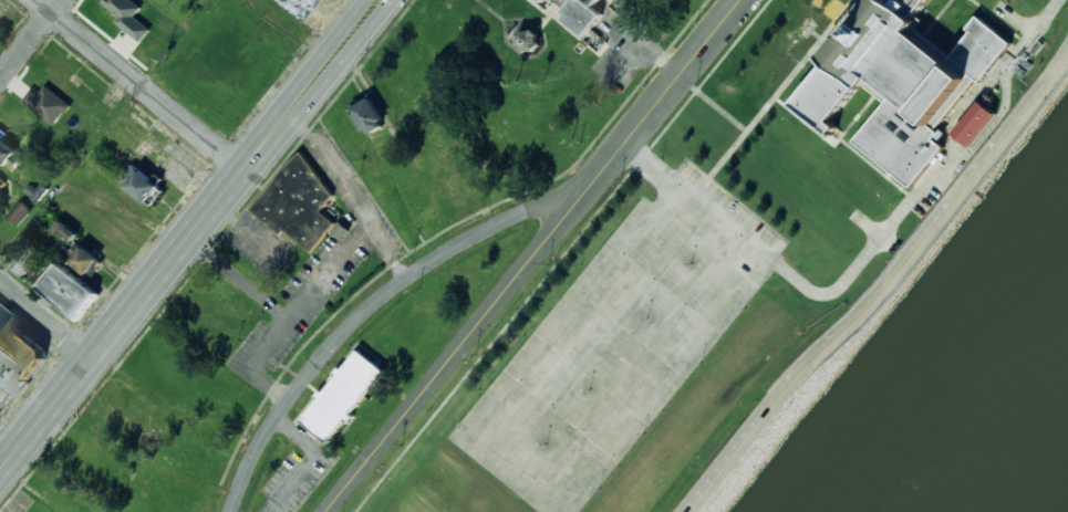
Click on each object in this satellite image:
building: (539, 0)
building: (302, 8)
building: (578, 13)
building: (128, 17)
road: (30, 38)
building: (528, 40)
building: (594, 40)
building: (900, 83)
road: (141, 84)
road: (662, 96)
building: (46, 103)
building: (369, 116)
building: (974, 123)
road: (106, 130)
building: (9, 155)
building: (1, 184)
building: (142, 184)
building: (297, 202)
building: (20, 213)
building: (68, 231)
building: (341, 231)
road: (189, 234)
building: (27, 259)
building: (87, 260)
road: (882, 286)
building: (70, 290)
road: (370, 310)
road: (46, 317)
road: (455, 353)
building: (17, 358)
building: (343, 396)

